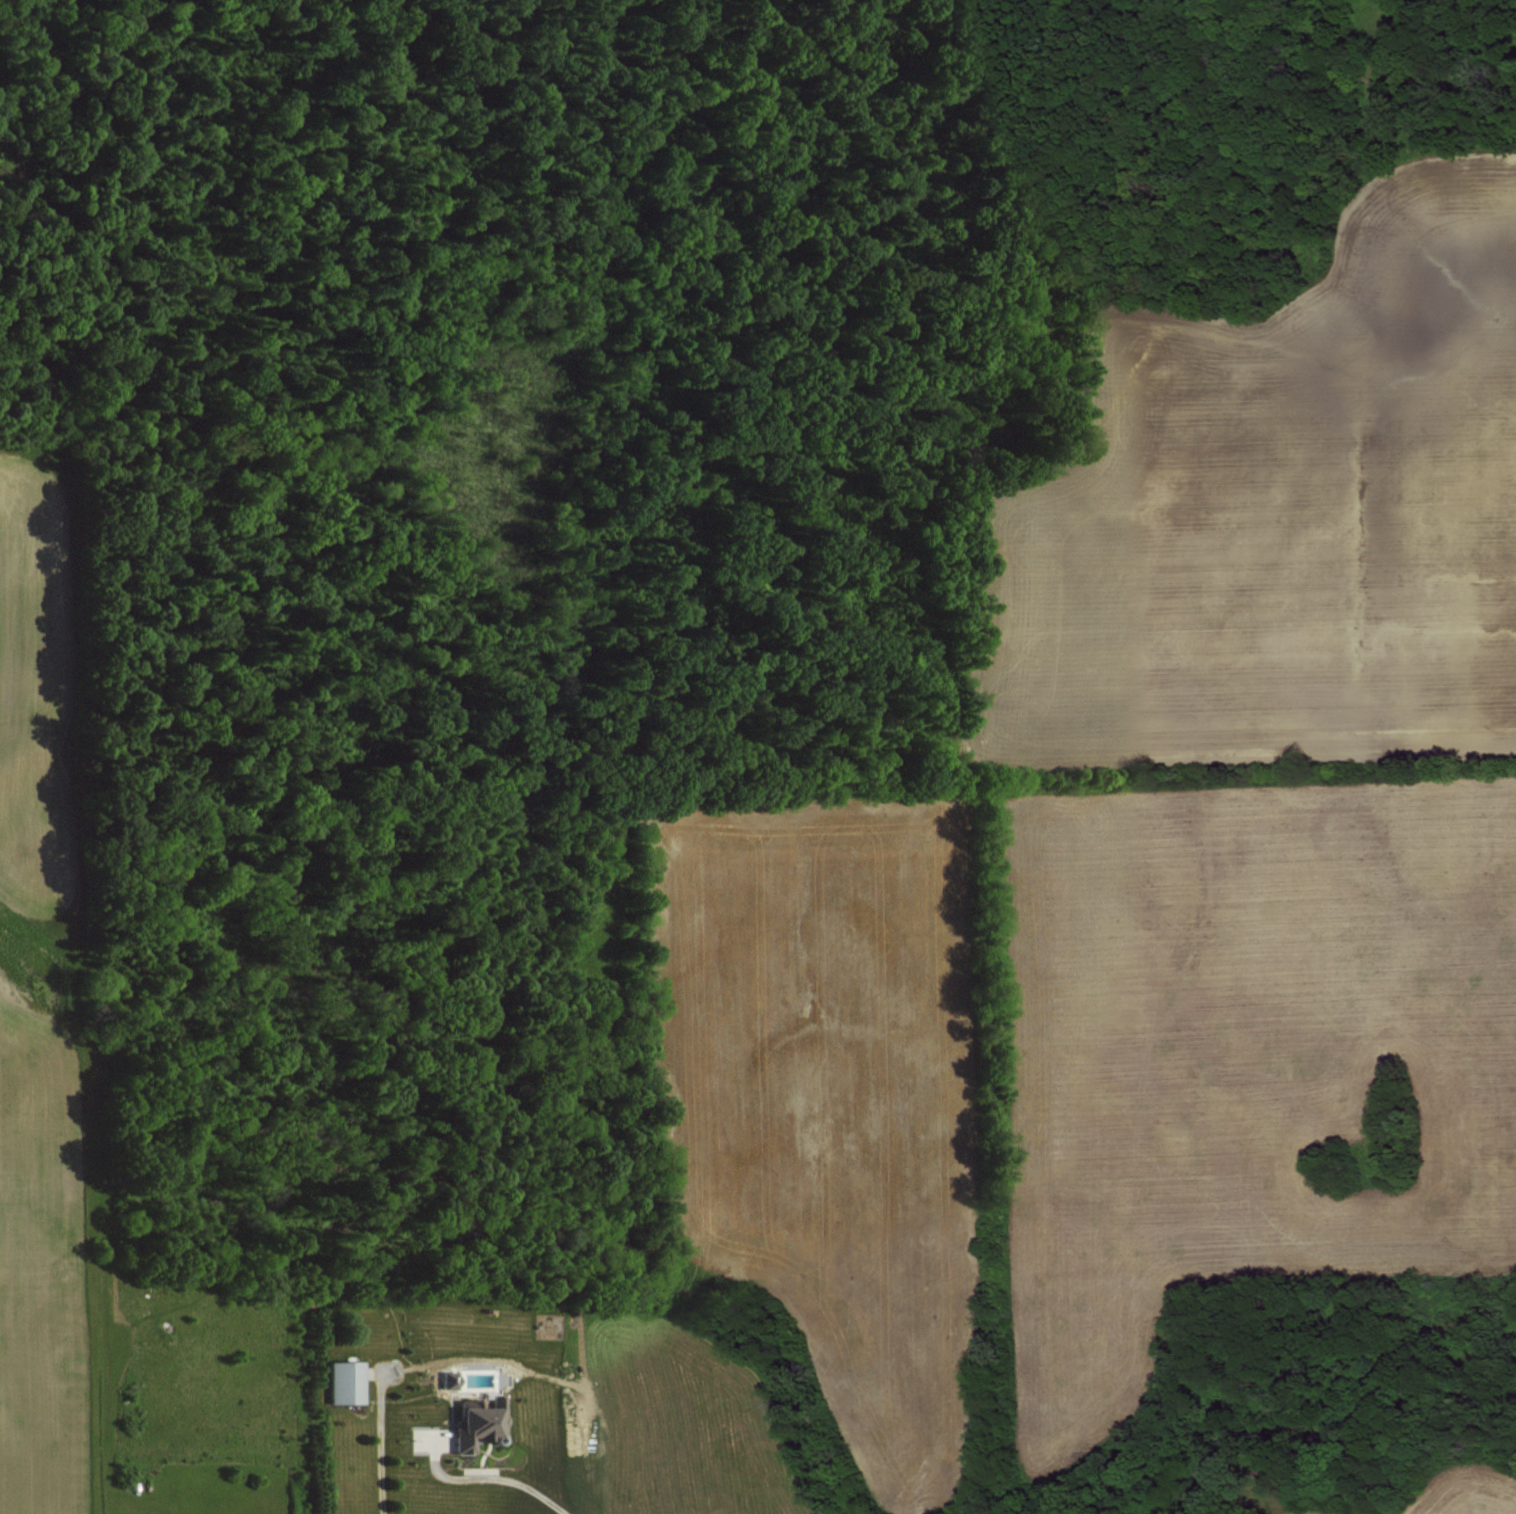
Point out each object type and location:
building: (445, 1378)
building: (342, 1381)
building: (476, 1423)
road: (380, 1442)
road: (526, 1488)

